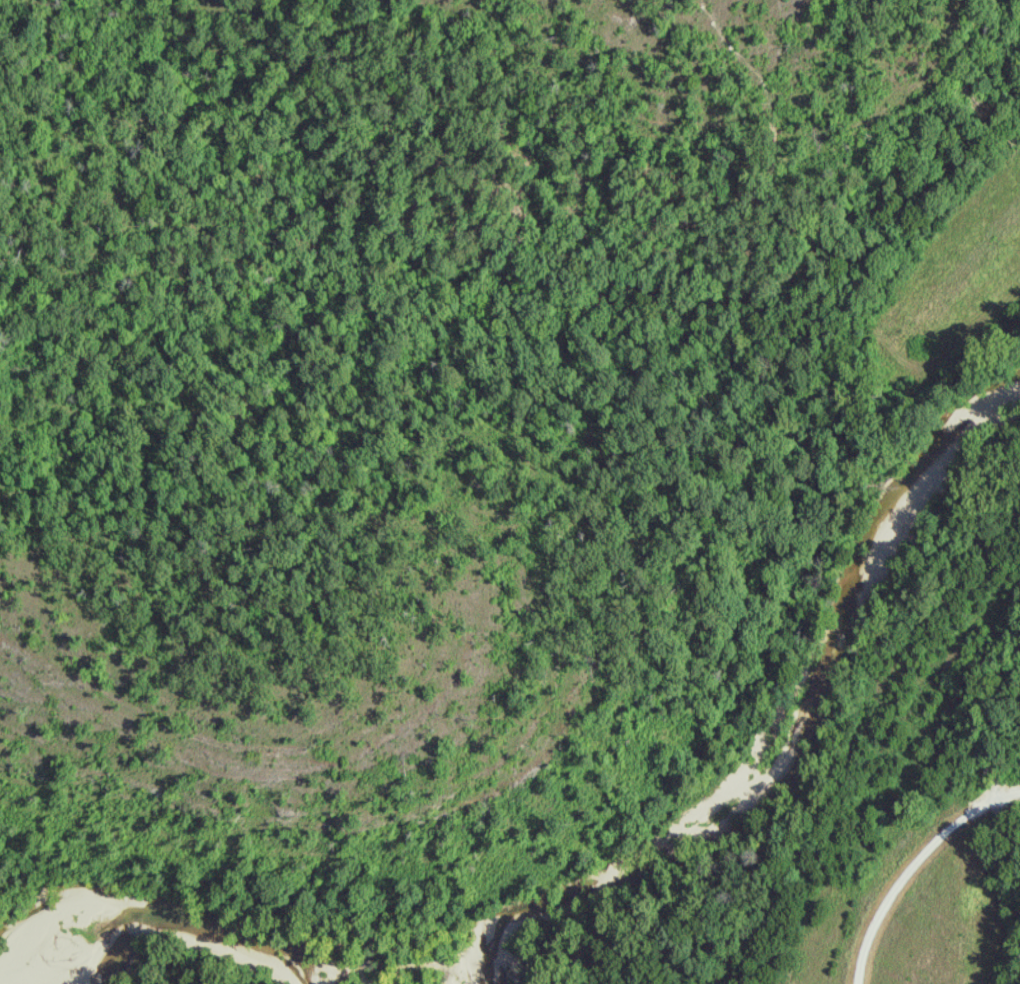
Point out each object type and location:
road: (916, 867)

